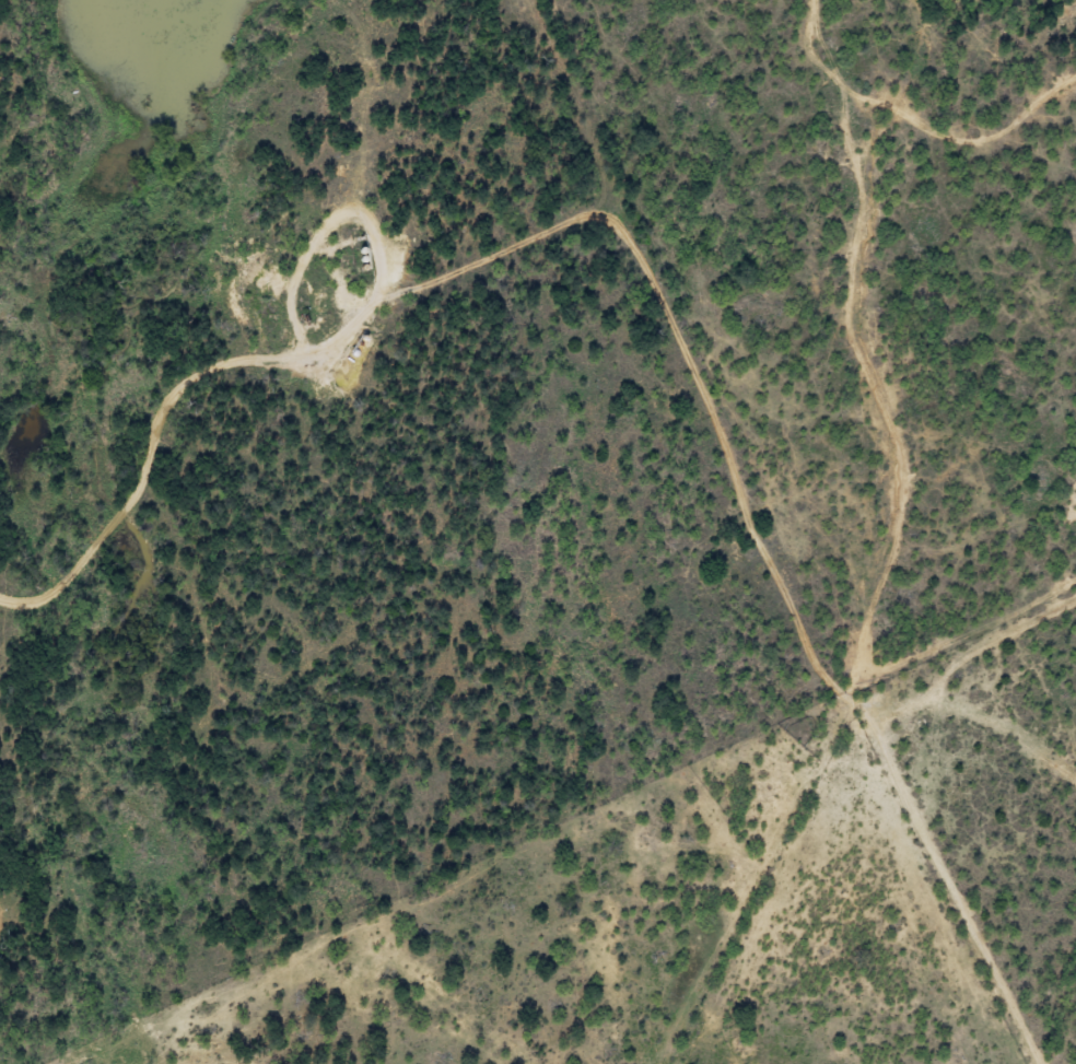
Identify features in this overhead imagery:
road: (794, 748)

